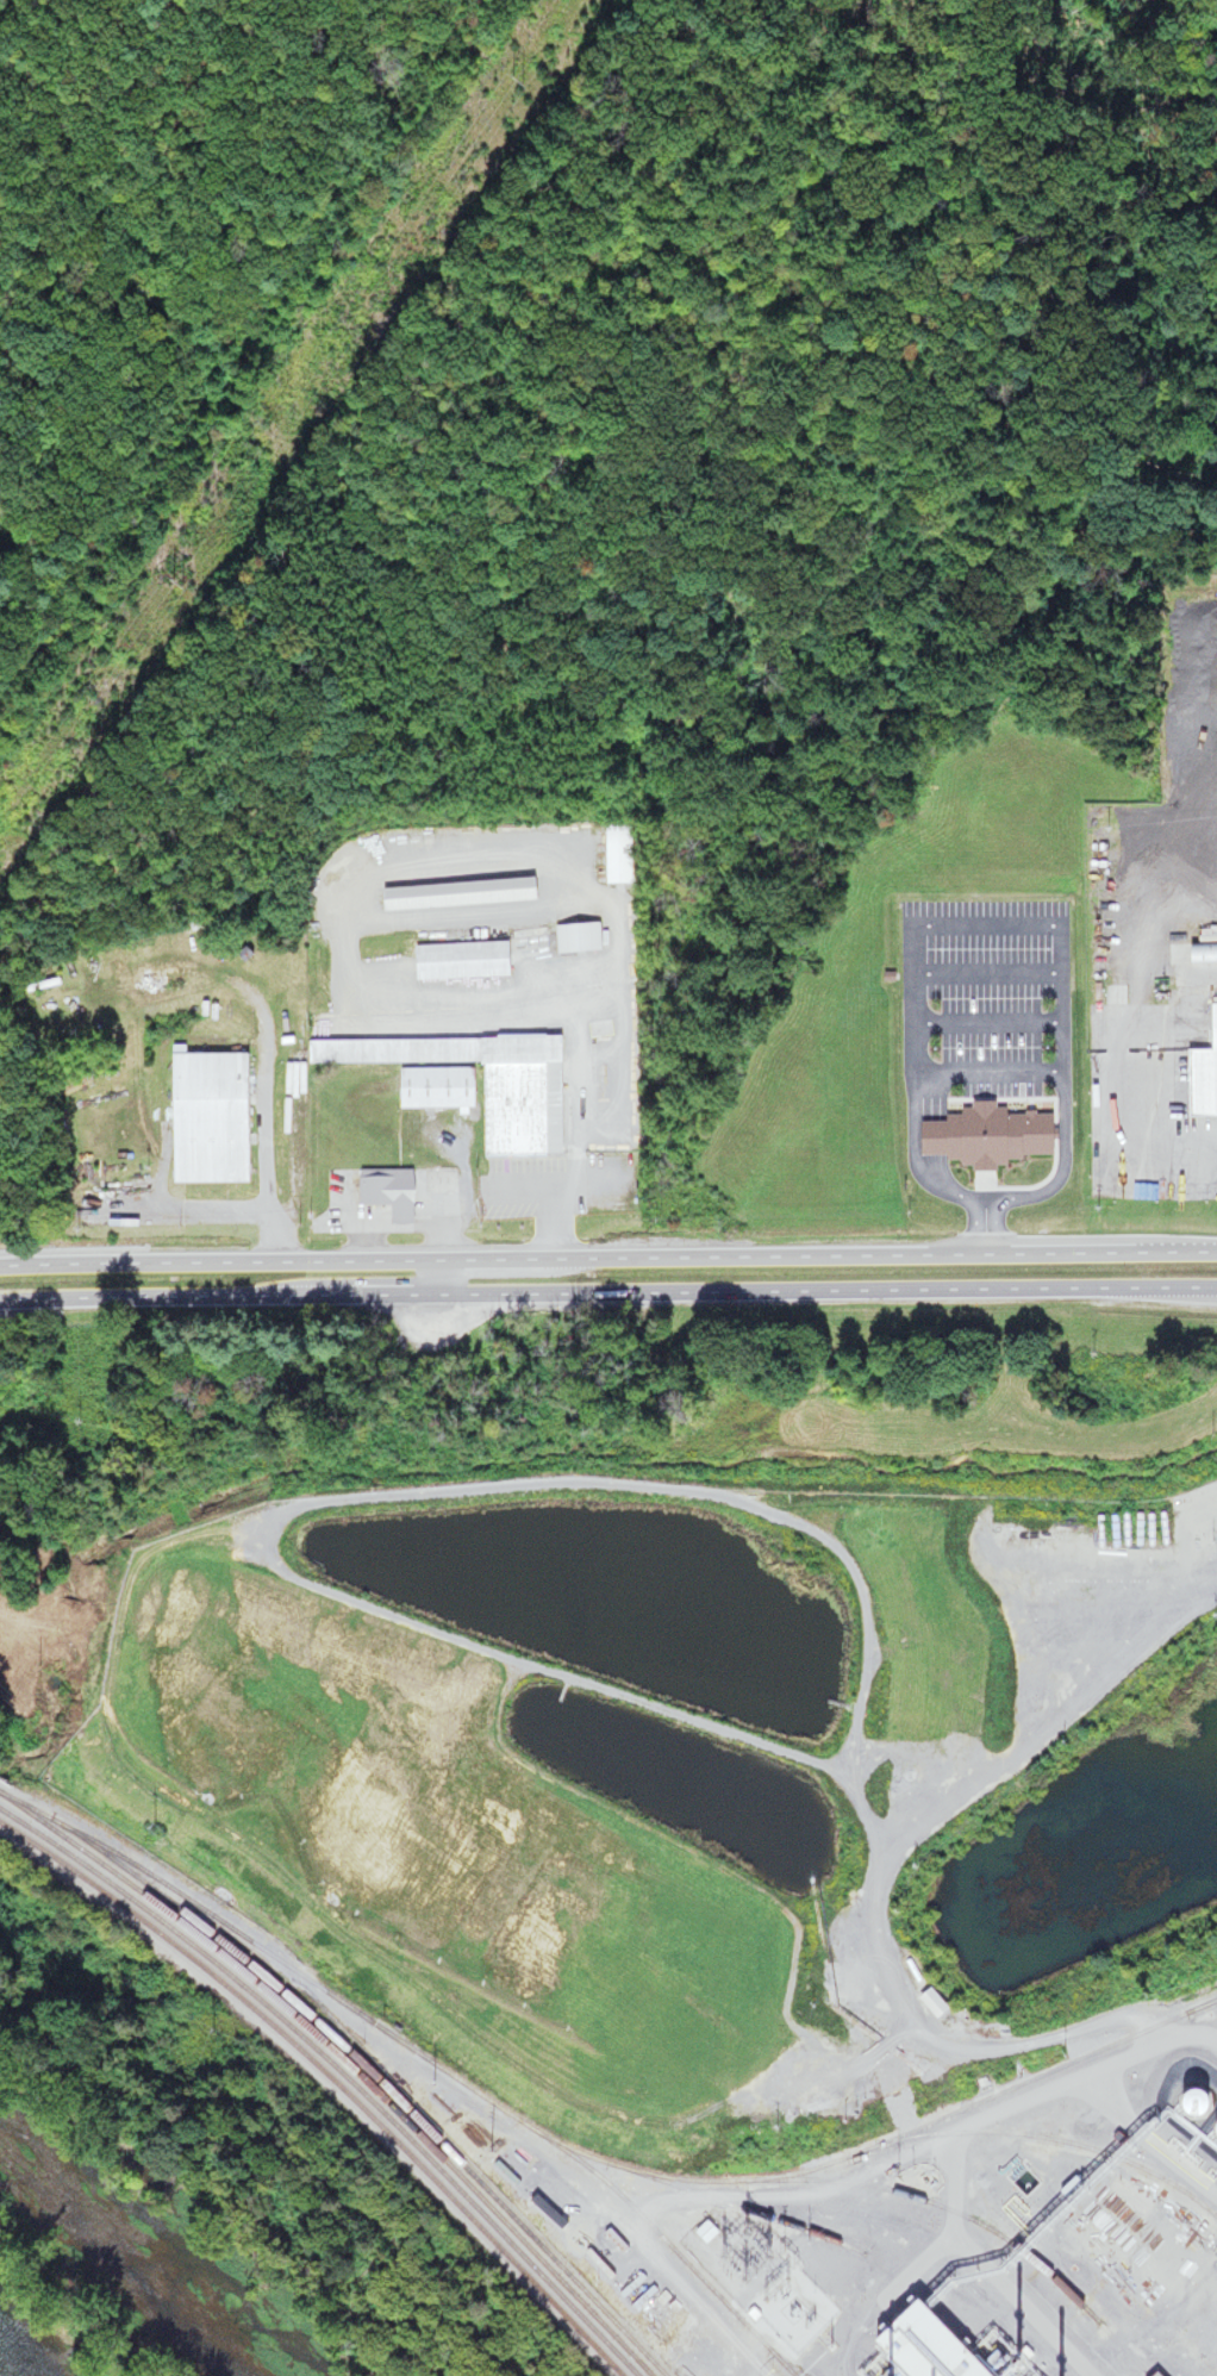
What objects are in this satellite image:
power tower: (176, 581)
building: (613, 855)
building: (451, 894)
building: (572, 937)
building: (454, 961)
building: (1200, 1074)
building: (464, 1083)
building: (210, 1117)
building: (982, 1136)
road: (573, 1142)
building: (382, 1192)
road: (607, 1258)
road: (441, 1276)
road: (607, 1292)
building: (1161, 1540)
building: (1143, 1558)
building: (953, 1745)
railway: (1206, 2002)
building: (926, 2003)
road: (1197, 2039)
railway: (418, 2054)
railway: (1047, 2070)
railway: (349, 2077)
railway: (993, 2133)
railway: (872, 2188)
building: (703, 2231)
building: (904, 2238)
power substation: (755, 2274)

